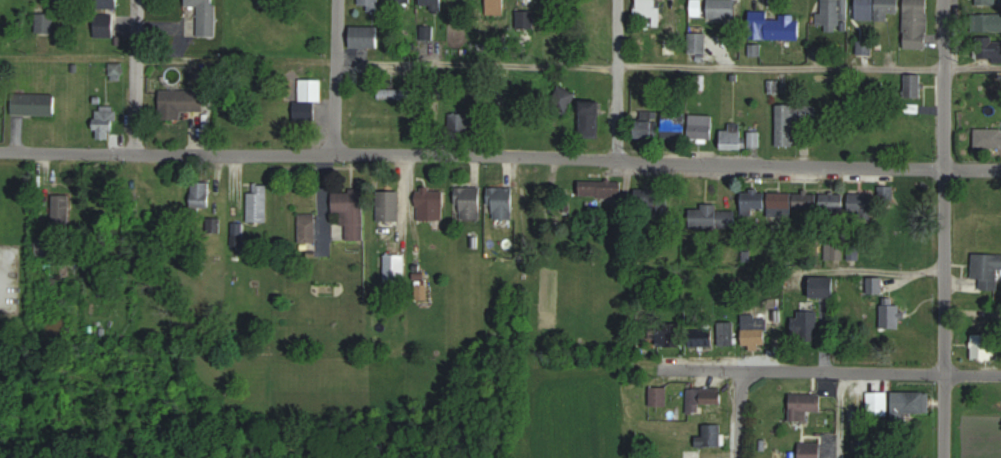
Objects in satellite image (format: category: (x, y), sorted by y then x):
building: (400, 1)
building: (38, 2)
building: (988, 2)
building: (371, 4)
building: (431, 4)
building: (698, 8)
building: (721, 8)
building: (649, 9)
building: (876, 9)
building: (832, 15)
building: (206, 17)
building: (45, 22)
building: (988, 22)
building: (916, 24)
building: (105, 25)
building: (775, 25)
building: (365, 37)
building: (699, 45)
building: (864, 47)
building: (989, 50)
road: (500, 64)
road: (136, 76)
road: (338, 76)
road: (619, 80)
building: (914, 86)
building: (395, 93)
building: (308, 100)
building: (181, 103)
building: (33, 104)
building: (591, 120)
building: (459, 122)
building: (105, 124)
building: (280, 124)
building: (675, 124)
building: (650, 125)
building: (786, 126)
building: (702, 127)
building: (732, 136)
building: (987, 136)
building: (754, 139)
road: (472, 154)
road: (972, 168)
building: (591, 189)
building: (201, 197)
building: (912, 197)
building: (886, 198)
building: (755, 202)
building: (861, 202)
building: (793, 203)
building: (833, 203)
building: (469, 204)
building: (501, 204)
building: (431, 205)
building: (645, 205)
building: (389, 206)
building: (258, 207)
building: (62, 208)
building: (350, 214)
building: (712, 218)
road: (945, 228)
building: (308, 229)
building: (834, 251)
building: (395, 269)
road: (856, 269)
building: (987, 270)
building: (873, 286)
building: (823, 287)
building: (891, 315)
building: (805, 324)
building: (755, 331)
building: (670, 335)
building: (726, 335)
building: (702, 338)
building: (984, 346)
road: (809, 370)
road: (974, 373)
building: (659, 396)
building: (704, 397)
building: (911, 404)
building: (805, 405)
building: (872, 405)
road: (741, 413)
road: (841, 414)
building: (711, 435)
building: (811, 449)

